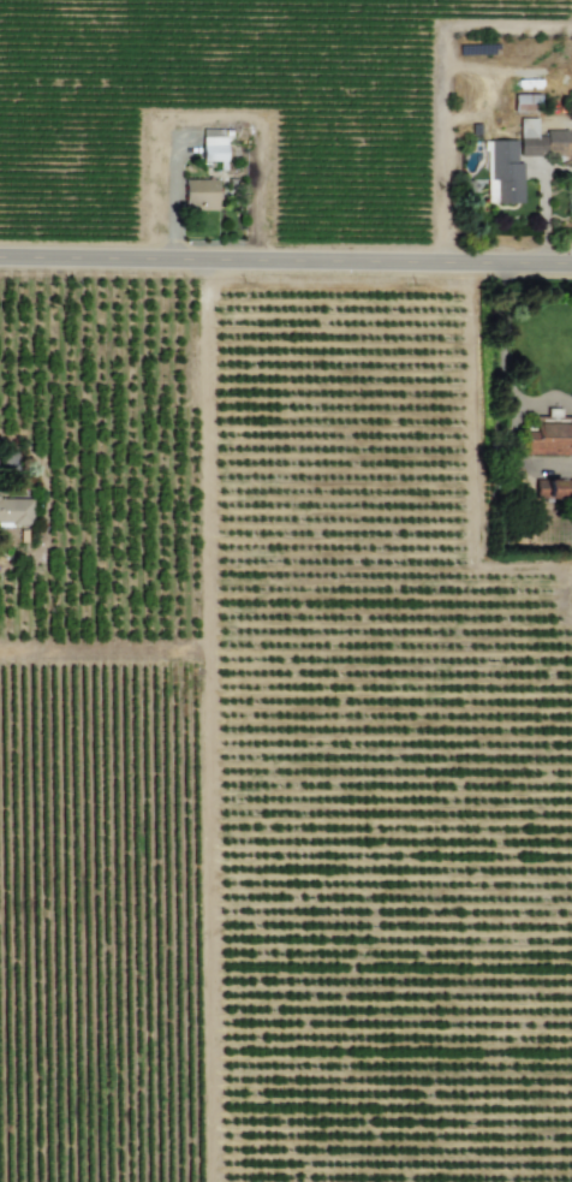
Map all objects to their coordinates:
road: (441, 84)
building: (524, 102)
building: (526, 127)
building: (543, 144)
building: (210, 149)
building: (504, 172)
building: (198, 195)
road: (285, 262)
building: (548, 438)
building: (546, 488)
building: (14, 510)

